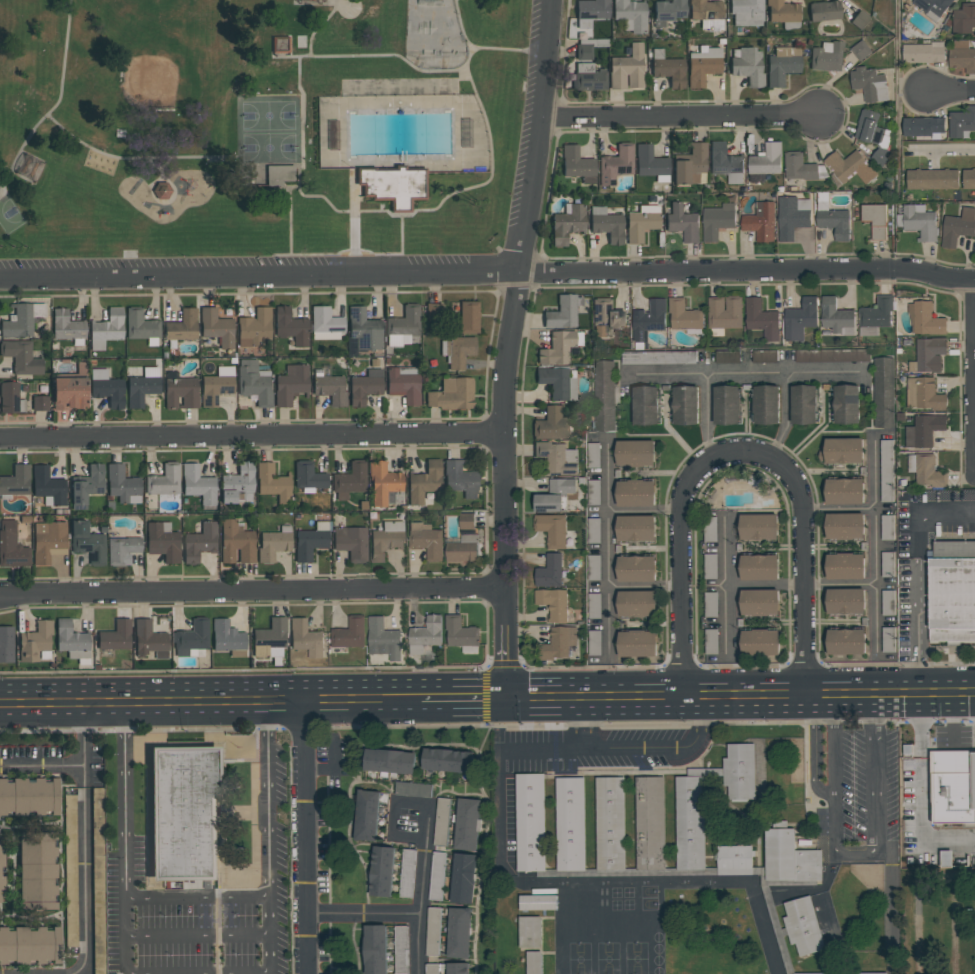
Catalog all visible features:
building: (308, 1)
building: (932, 7)
building: (824, 10)
building: (590, 11)
building: (667, 11)
building: (746, 12)
building: (783, 13)
building: (630, 14)
building: (707, 14)
building: (860, 19)
building: (964, 19)
park: (434, 35)
building: (282, 44)
building: (587, 47)
road: (473, 48)
building: (860, 50)
building: (923, 53)
road: (358, 55)
building: (827, 56)
building: (962, 56)
road: (897, 58)
building: (703, 64)
building: (782, 64)
building: (747, 65)
building: (627, 68)
building: (668, 68)
building: (588, 77)
park: (150, 82)
building: (869, 84)
road: (950, 89)
road: (58, 102)
road: (302, 107)
road: (679, 116)
building: (962, 122)
park: (257, 127)
building: (923, 127)
park: (268, 128)
building: (873, 134)
road: (943, 152)
building: (765, 162)
building: (650, 163)
building: (725, 163)
building: (577, 164)
building: (615, 164)
building: (690, 164)
building: (28, 166)
building: (801, 167)
building: (848, 167)
building: (266, 174)
building: (931, 179)
building: (968, 179)
building: (394, 185)
road: (320, 195)
park: (10, 215)
road: (289, 215)
building: (792, 216)
building: (832, 218)
building: (874, 220)
building: (717, 221)
building: (760, 221)
building: (641, 222)
building: (682, 222)
building: (918, 222)
road: (354, 223)
building: (567, 223)
building: (606, 224)
building: (957, 227)
road: (356, 254)
road: (488, 271)
building: (433, 310)
building: (562, 311)
building: (607, 314)
building: (723, 314)
building: (468, 316)
building: (684, 316)
building: (876, 316)
building: (836, 317)
building: (800, 318)
building: (21, 319)
building: (761, 319)
building: (925, 319)
building: (648, 322)
building: (326, 324)
building: (403, 325)
building: (67, 326)
building: (141, 326)
building: (290, 326)
building: (182, 327)
building: (216, 327)
building: (254, 327)
building: (106, 329)
building: (598, 330)
building: (362, 332)
road: (508, 346)
building: (559, 347)
building: (457, 351)
building: (928, 355)
building: (21, 356)
building: (831, 356)
building: (727, 357)
building: (764, 357)
building: (658, 358)
road: (665, 371)
road: (704, 374)
building: (558, 381)
building: (254, 382)
road: (786, 382)
building: (291, 383)
building: (404, 384)
building: (217, 385)
building: (142, 386)
building: (365, 386)
building: (107, 387)
building: (330, 387)
building: (70, 388)
building: (181, 391)
building: (883, 392)
building: (452, 394)
building: (923, 394)
building: (604, 396)
building: (10, 398)
building: (40, 403)
building: (766, 404)
building: (803, 404)
building: (846, 404)
building: (645, 405)
building: (685, 405)
building: (726, 405)
building: (552, 424)
building: (924, 430)
road: (251, 437)
building: (842, 450)
building: (635, 453)
road: (742, 454)
building: (593, 455)
building: (557, 458)
building: (886, 471)
building: (926, 471)
building: (308, 476)
building: (350, 479)
building: (460, 479)
building: (164, 480)
building: (424, 481)
building: (15, 482)
building: (273, 482)
building: (238, 483)
building: (122, 484)
building: (199, 484)
building: (384, 484)
building: (86, 485)
building: (48, 486)
building: (844, 491)
building: (593, 492)
building: (635, 493)
building: (555, 496)
road: (838, 508)
building: (844, 526)
building: (758, 527)
building: (636, 528)
building: (551, 529)
building: (709, 529)
building: (49, 540)
building: (386, 540)
building: (426, 540)
building: (163, 541)
building: (236, 541)
building: (311, 541)
building: (464, 541)
building: (87, 542)
building: (199, 542)
building: (351, 542)
building: (274, 543)
building: (11, 546)
road: (873, 546)
building: (122, 549)
building: (887, 564)
building: (710, 566)
building: (845, 566)
building: (759, 567)
building: (636, 568)
building: (549, 572)
road: (917, 574)
road: (838, 584)
road: (764, 586)
road: (725, 588)
road: (251, 591)
building: (951, 594)
building: (845, 601)
building: (759, 602)
building: (553, 603)
building: (636, 603)
building: (887, 603)
building: (710, 605)
building: (594, 606)
building: (349, 633)
building: (425, 634)
building: (461, 634)
building: (116, 635)
building: (192, 637)
building: (227, 637)
building: (149, 638)
building: (306, 638)
building: (270, 639)
building: (383, 639)
building: (36, 641)
building: (72, 641)
building: (711, 642)
building: (759, 642)
building: (845, 642)
building: (558, 643)
building: (637, 643)
building: (6, 644)
road: (485, 676)
road: (738, 691)
road: (460, 695)
traffic signals: (502, 695)
road: (209, 699)
road: (919, 705)
road: (730, 723)
street lamp: (933, 736)
parking lot: (952, 737)
road: (921, 738)
street lamp: (912, 740)
road: (932, 740)
road: (930, 745)
building: (907, 749)
road: (963, 749)
road: (814, 750)
road: (945, 750)
road: (637, 758)
building: (447, 760)
building: (390, 761)
road: (40, 766)
building: (621, 774)
building: (953, 786)
building: (412, 790)
road: (833, 792)
building: (28, 796)
building: (97, 802)
building: (184, 813)
building: (366, 815)
road: (392, 819)
building: (441, 821)
building: (532, 823)
building: (651, 823)
building: (467, 824)
building: (570, 824)
building: (610, 824)
road: (301, 835)
road: (268, 836)
road: (82, 838)
road: (124, 838)
building: (692, 838)
road: (874, 839)
building: (789, 858)
building: (946, 858)
building: (909, 860)
building: (733, 861)
building: (37, 871)
building: (70, 871)
building: (381, 871)
building: (407, 873)
building: (1, 874)
building: (621, 874)
building: (437, 875)
building: (463, 878)
building: (98, 881)
road: (574, 884)
road: (420, 890)
road: (917, 895)
road: (196, 897)
building: (537, 903)
building: (770, 909)
street lamp: (973, 910)
road: (359, 916)
parking lot: (937, 921)
road: (954, 924)
building: (803, 929)
building: (433, 931)
building: (459, 933)
road: (196, 936)
building: (530, 943)
building: (29, 945)
building: (375, 949)
building: (401, 950)
building: (431, 968)
building: (457, 968)
building: (864, 973)

